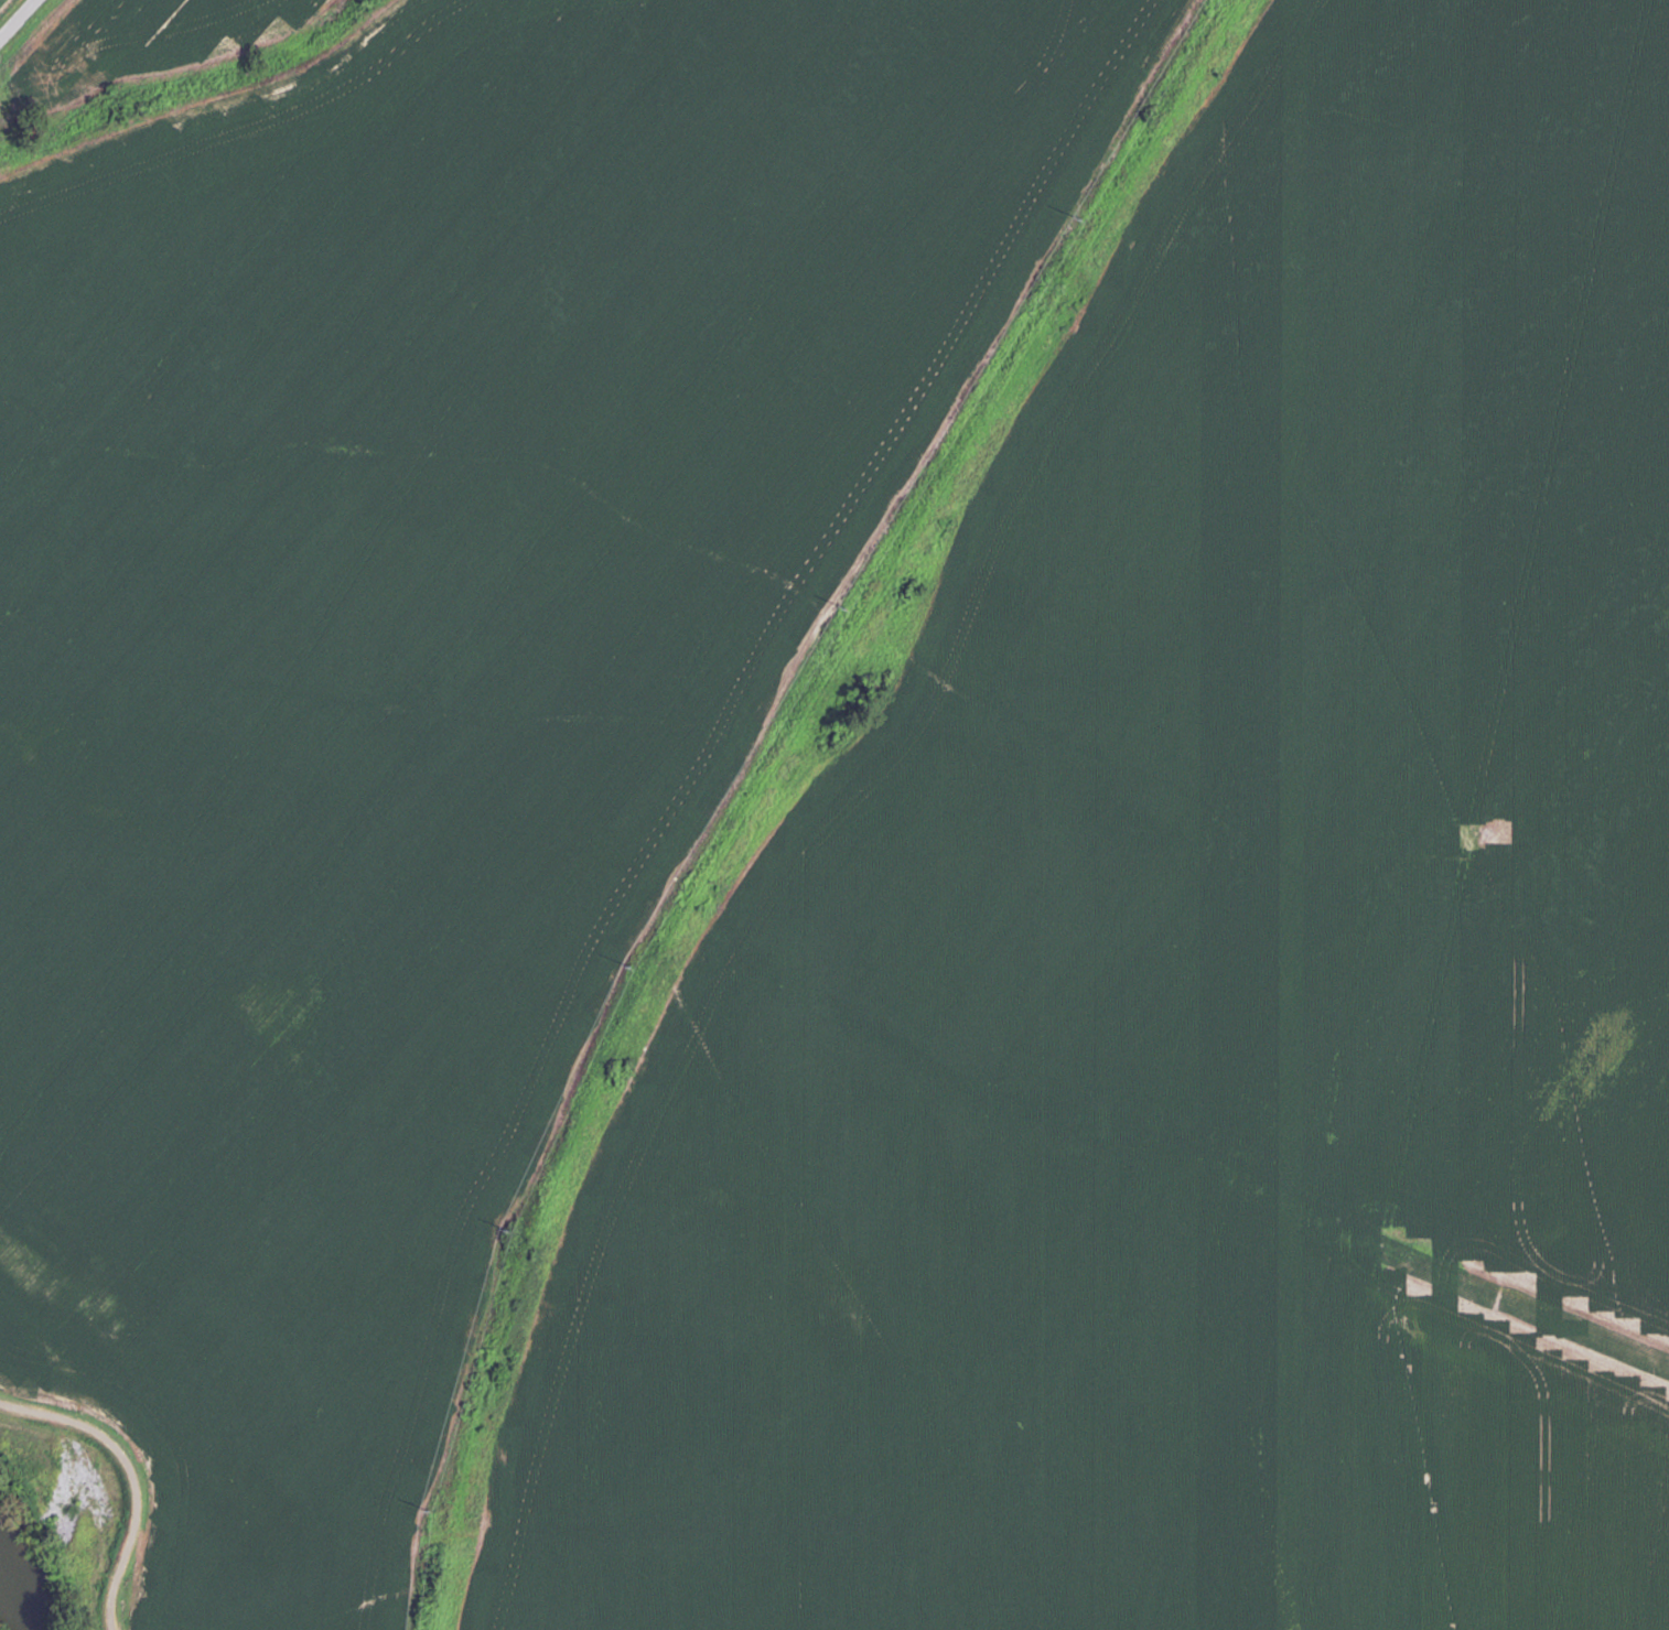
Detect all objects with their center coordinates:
road: (17, 19)
road: (214, 109)
power tower: (1083, 217)
road: (1134, 244)
power tower: (848, 606)
road: (823, 766)
railway: (765, 782)
power tower: (631, 962)
power tower: (509, 1229)
power tower: (430, 1510)

